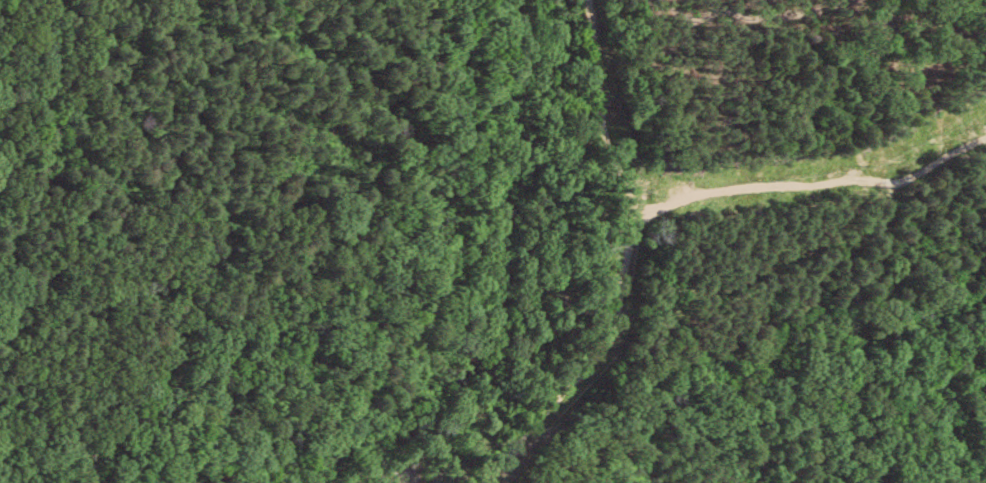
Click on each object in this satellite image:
road: (628, 246)

